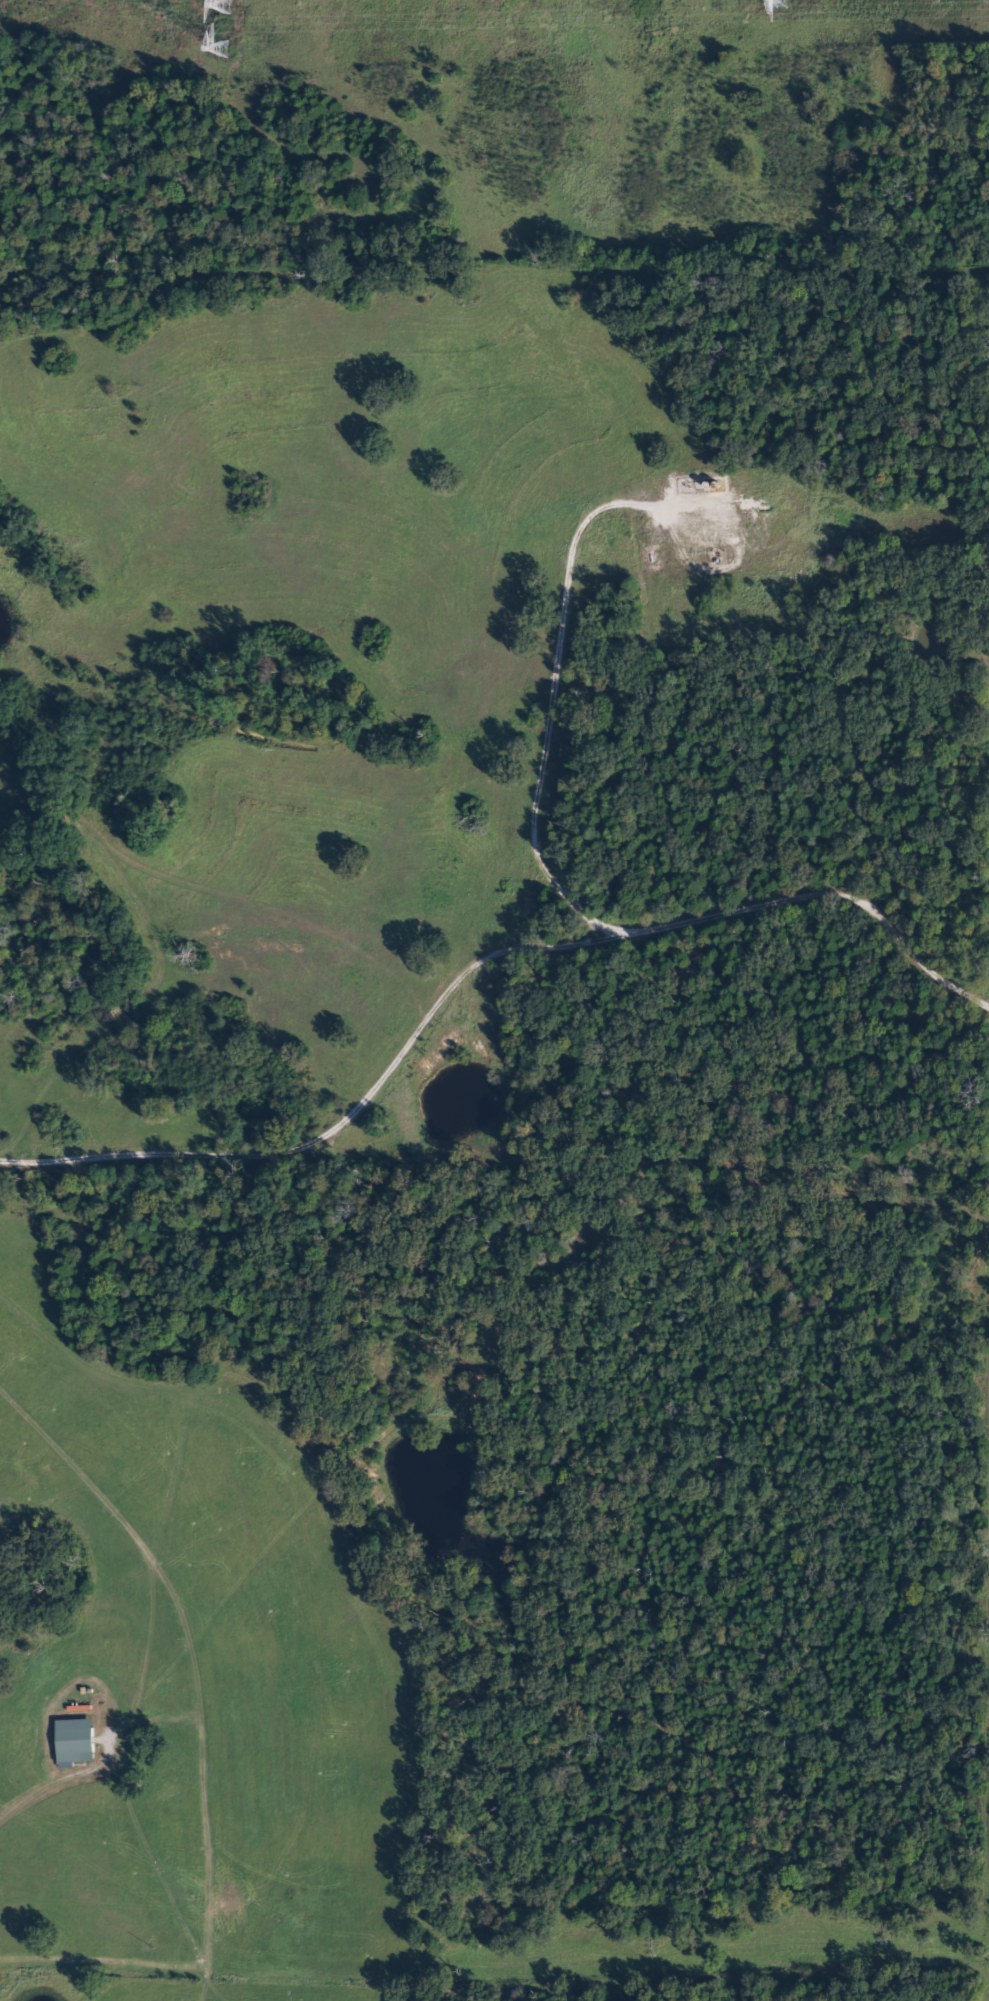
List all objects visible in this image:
power tower: (227, 5)
road: (500, 922)
building: (74, 1742)

